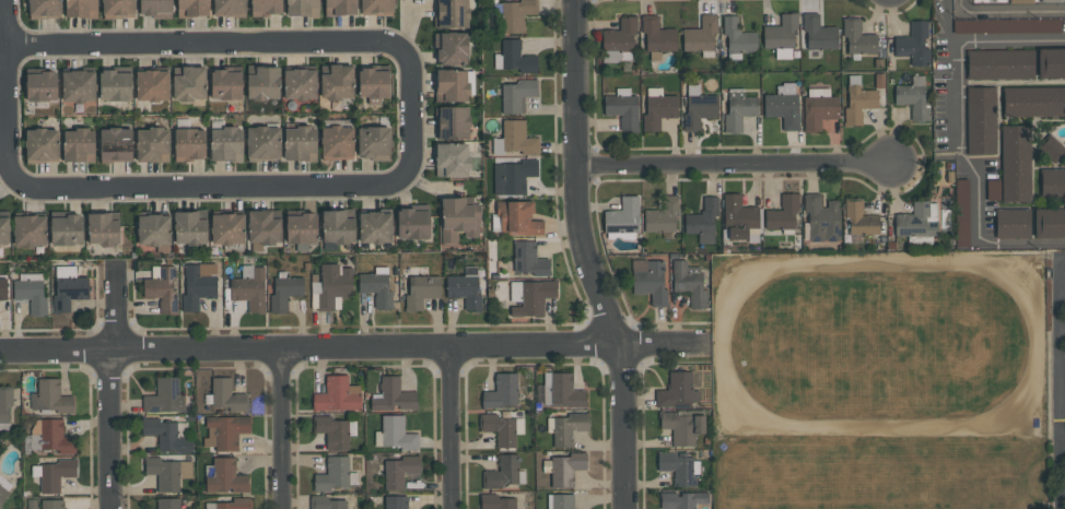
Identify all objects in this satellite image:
building: (981, 0)
building: (1051, 0)
building: (1020, 1)
building: (340, 7)
building: (45, 8)
building: (155, 8)
building: (192, 8)
building: (229, 8)
building: (266, 8)
building: (303, 8)
building: (377, 8)
building: (81, 9)
building: (118, 9)
road: (1008, 12)
building: (453, 13)
building: (516, 14)
road: (11, 25)
building: (1006, 25)
building: (819, 34)
building: (701, 37)
building: (781, 37)
building: (657, 38)
building: (738, 38)
building: (858, 38)
road: (201, 42)
building: (619, 42)
road: (22, 44)
building: (913, 44)
building: (452, 48)
building: (514, 57)
road: (11, 63)
building: (1051, 63)
building: (999, 64)
building: (262, 82)
building: (337, 83)
building: (373, 83)
building: (190, 84)
building: (225, 84)
building: (300, 84)
building: (115, 85)
building: (152, 85)
building: (453, 85)
building: (40, 86)
building: (78, 86)
road: (7, 91)
building: (516, 95)
building: (913, 98)
building: (858, 102)
building: (1033, 102)
building: (783, 105)
building: (698, 107)
building: (622, 108)
building: (658, 108)
building: (818, 108)
building: (738, 109)
road: (410, 111)
road: (423, 114)
building: (981, 120)
building: (452, 122)
road: (957, 134)
building: (515, 139)
building: (337, 142)
building: (264, 143)
building: (300, 143)
building: (374, 143)
building: (42, 144)
building: (115, 144)
building: (189, 144)
building: (226, 144)
building: (78, 145)
building: (152, 145)
building: (1052, 149)
building: (452, 159)
building: (1016, 163)
road: (736, 164)
road: (384, 170)
building: (517, 175)
building: (1052, 182)
road: (206, 187)
building: (993, 190)
building: (961, 213)
building: (783, 214)
building: (663, 215)
building: (622, 216)
building: (459, 218)
building: (517, 218)
building: (822, 218)
building: (740, 220)
building: (859, 220)
building: (917, 220)
building: (412, 222)
building: (703, 222)
building: (1013, 223)
building: (1049, 223)
building: (338, 226)
building: (375, 227)
building: (189, 228)
building: (227, 228)
building: (301, 228)
building: (4, 229)
building: (102, 229)
building: (153, 229)
building: (264, 229)
building: (28, 230)
building: (66, 230)
road: (587, 256)
building: (528, 259)
road: (1062, 260)
road: (1058, 274)
building: (649, 280)
building: (689, 283)
building: (198, 284)
building: (330, 286)
building: (69, 287)
building: (377, 287)
road: (1062, 287)
building: (3, 288)
building: (163, 288)
building: (249, 288)
building: (465, 288)
building: (285, 291)
building: (421, 291)
building: (31, 292)
building: (515, 292)
building: (535, 297)
road: (115, 306)
road: (1061, 330)
road: (354, 347)
building: (562, 390)
building: (678, 391)
building: (501, 392)
building: (225, 395)
building: (338, 395)
building: (394, 395)
building: (164, 396)
building: (50, 398)
road: (1058, 398)
building: (4, 409)
building: (566, 427)
building: (682, 427)
road: (280, 428)
road: (449, 428)
road: (110, 429)
building: (501, 429)
building: (225, 431)
building: (333, 431)
building: (395, 434)
building: (168, 435)
building: (49, 436)
road: (1062, 442)
building: (679, 467)
building: (564, 469)
building: (399, 471)
building: (167, 473)
building: (502, 473)
building: (56, 474)
building: (335, 474)
building: (225, 477)
building: (4, 488)
building: (682, 499)
building: (396, 501)
building: (560, 501)
building: (326, 502)
building: (498, 502)
building: (51, 504)
building: (167, 504)
building: (231, 504)
building: (1, 507)

